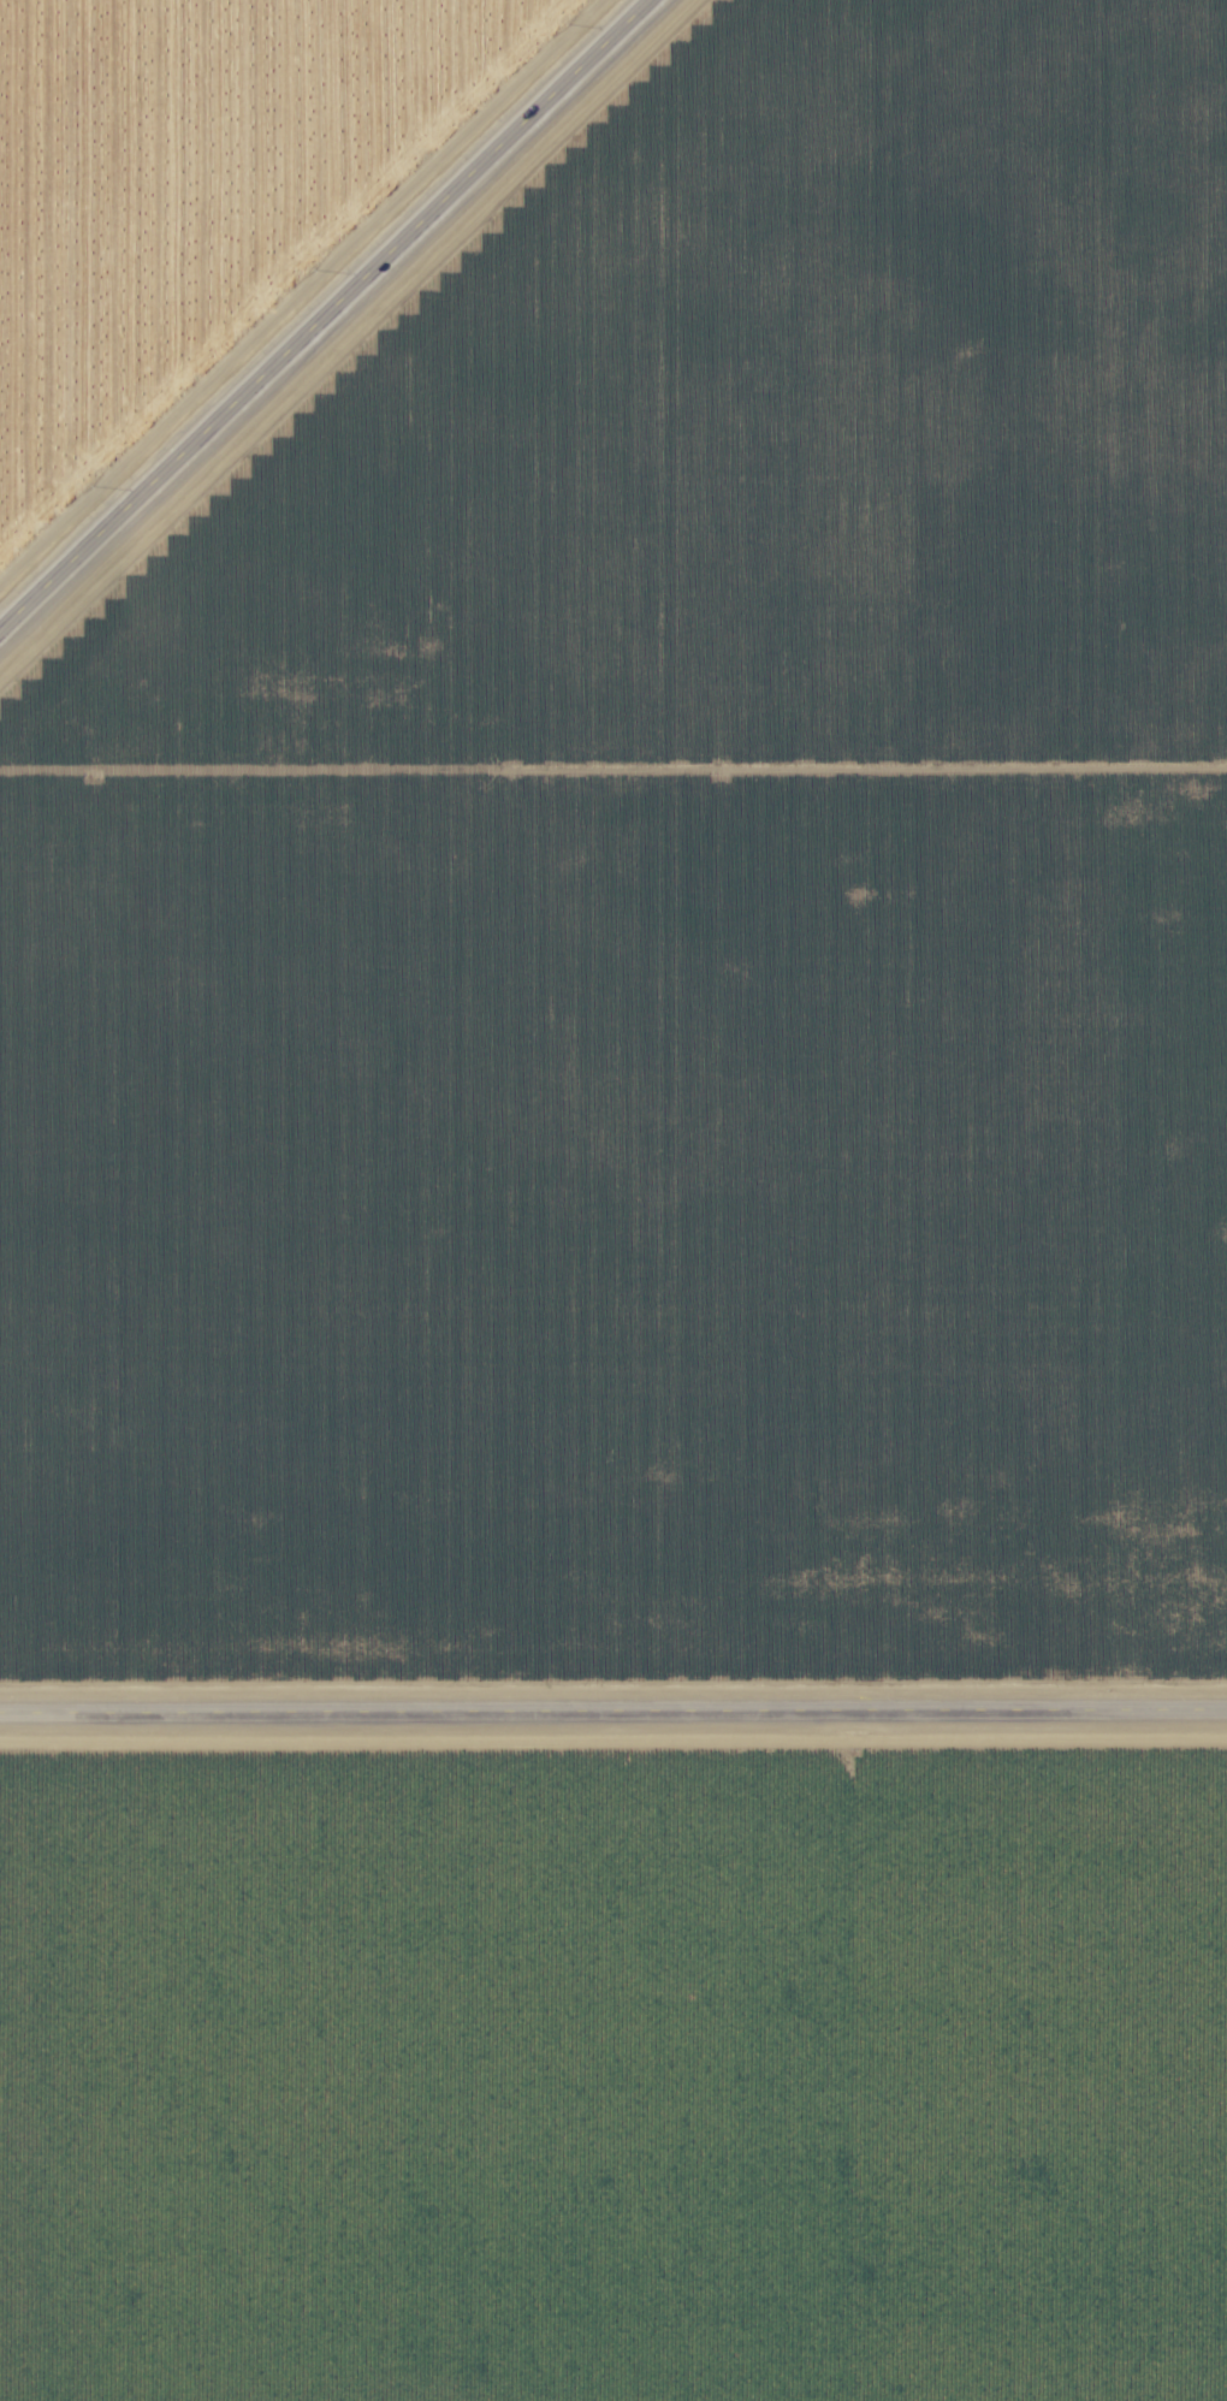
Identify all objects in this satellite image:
road: (334, 322)
road: (612, 1720)

